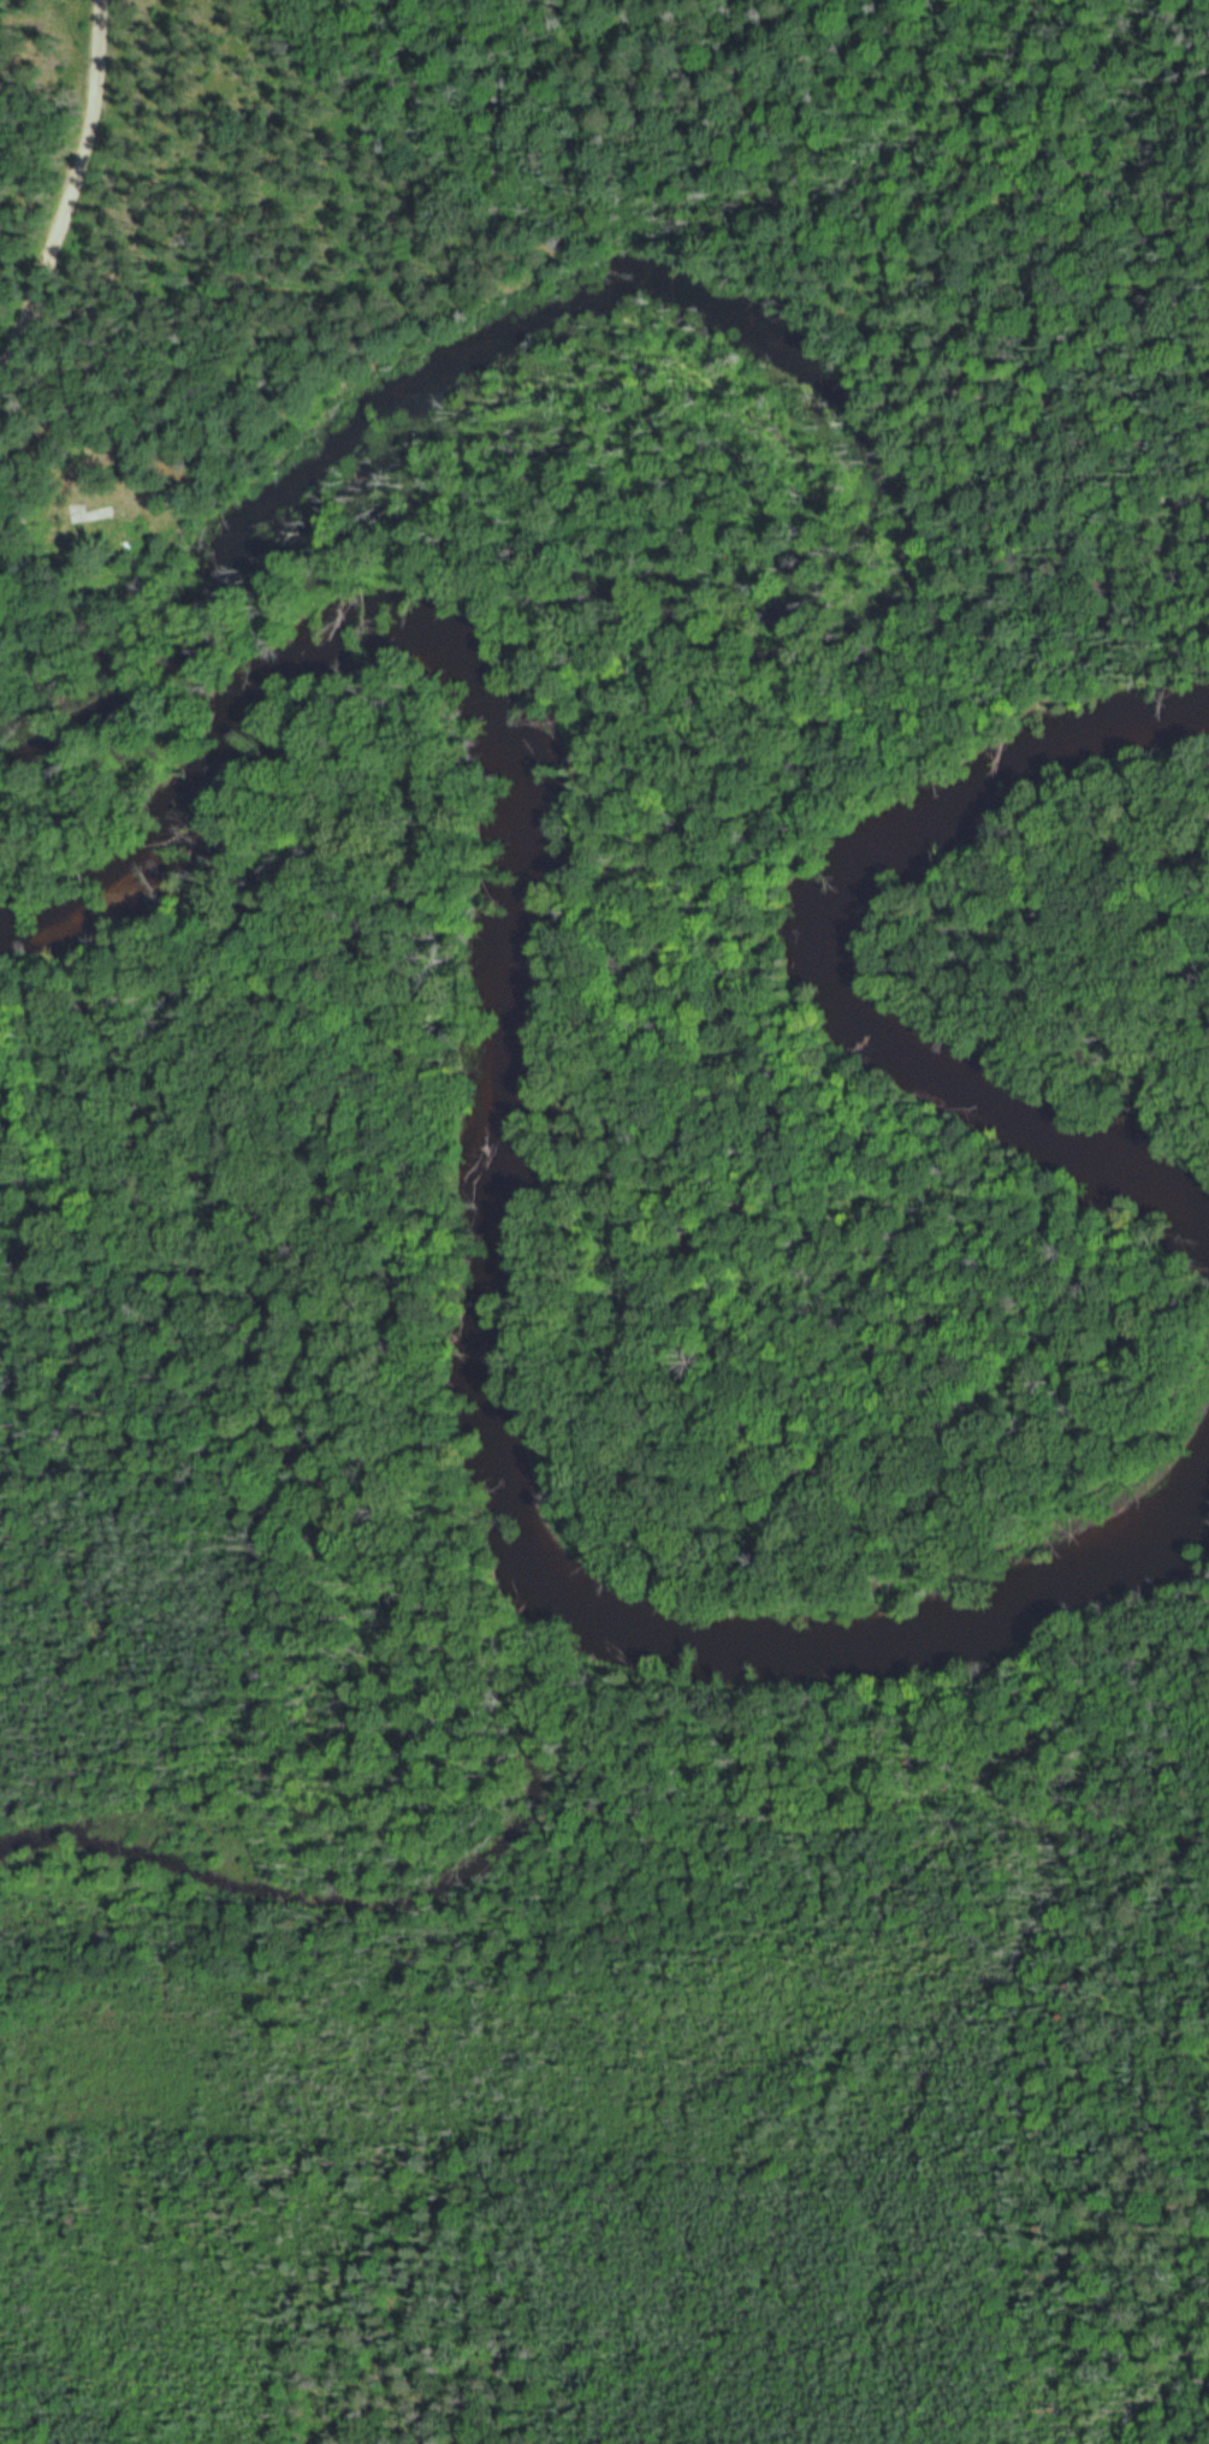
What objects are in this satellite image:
road: (76, 185)
building: (85, 511)
river: (829, 958)
river: (487, 1193)

